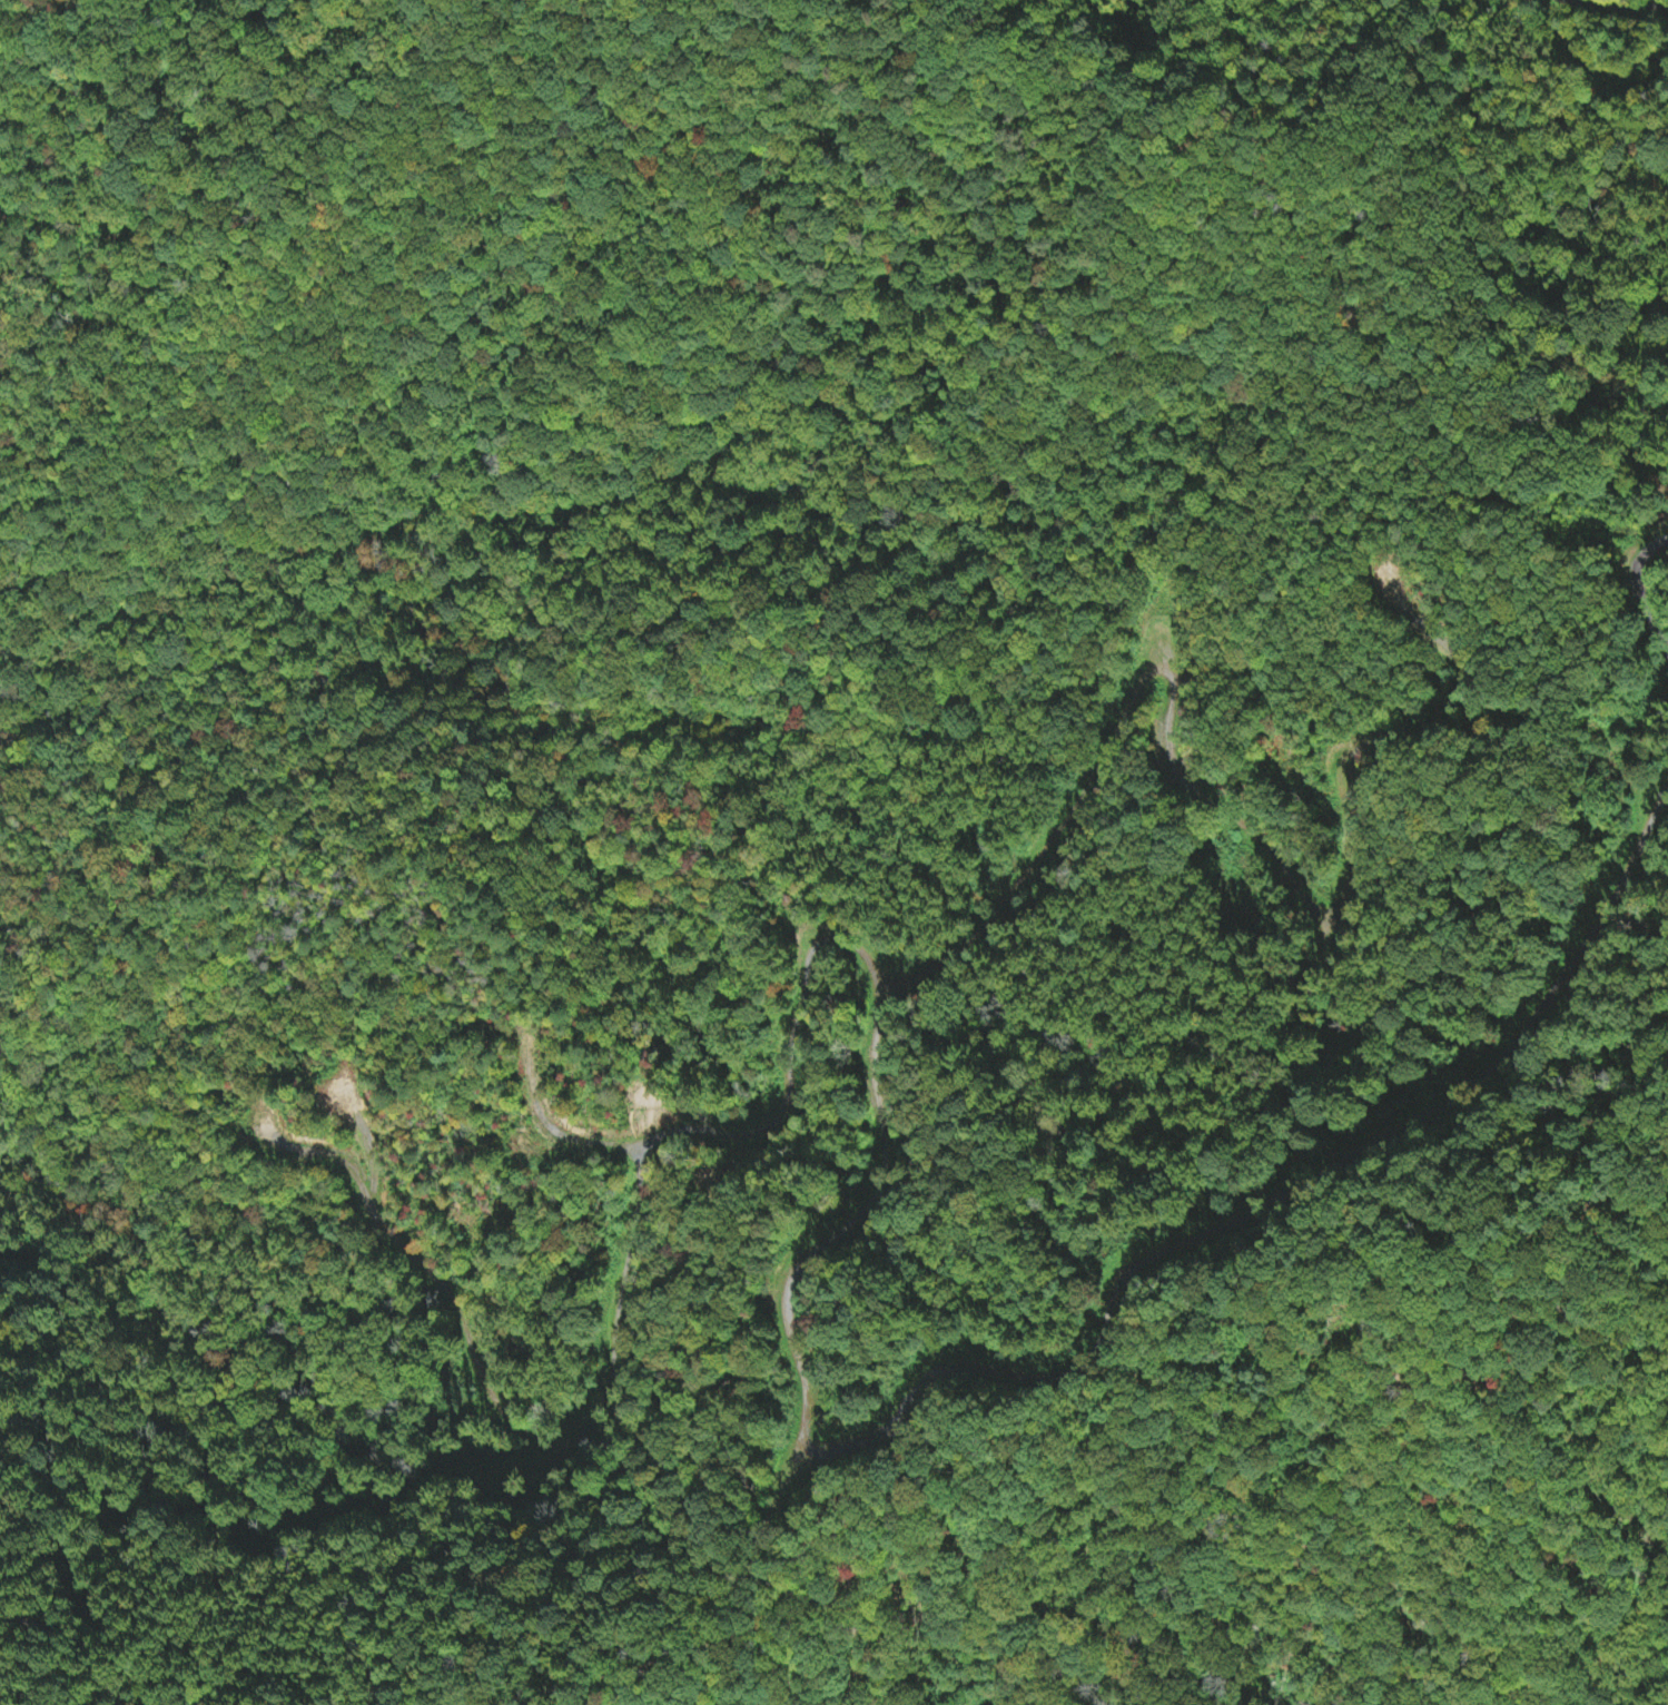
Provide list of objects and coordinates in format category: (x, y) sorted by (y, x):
road: (1621, 4)
road: (1640, 590)

